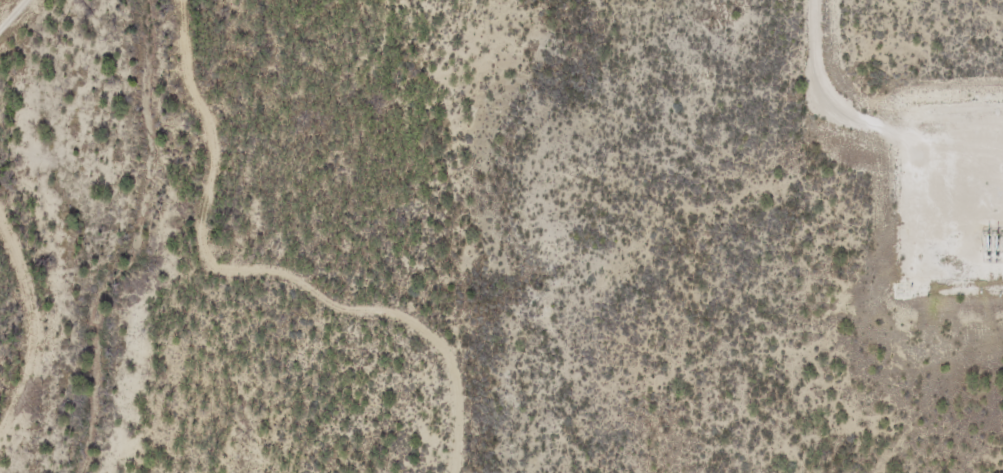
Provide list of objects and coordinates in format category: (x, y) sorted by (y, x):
road: (9, 10)
road: (832, 89)

